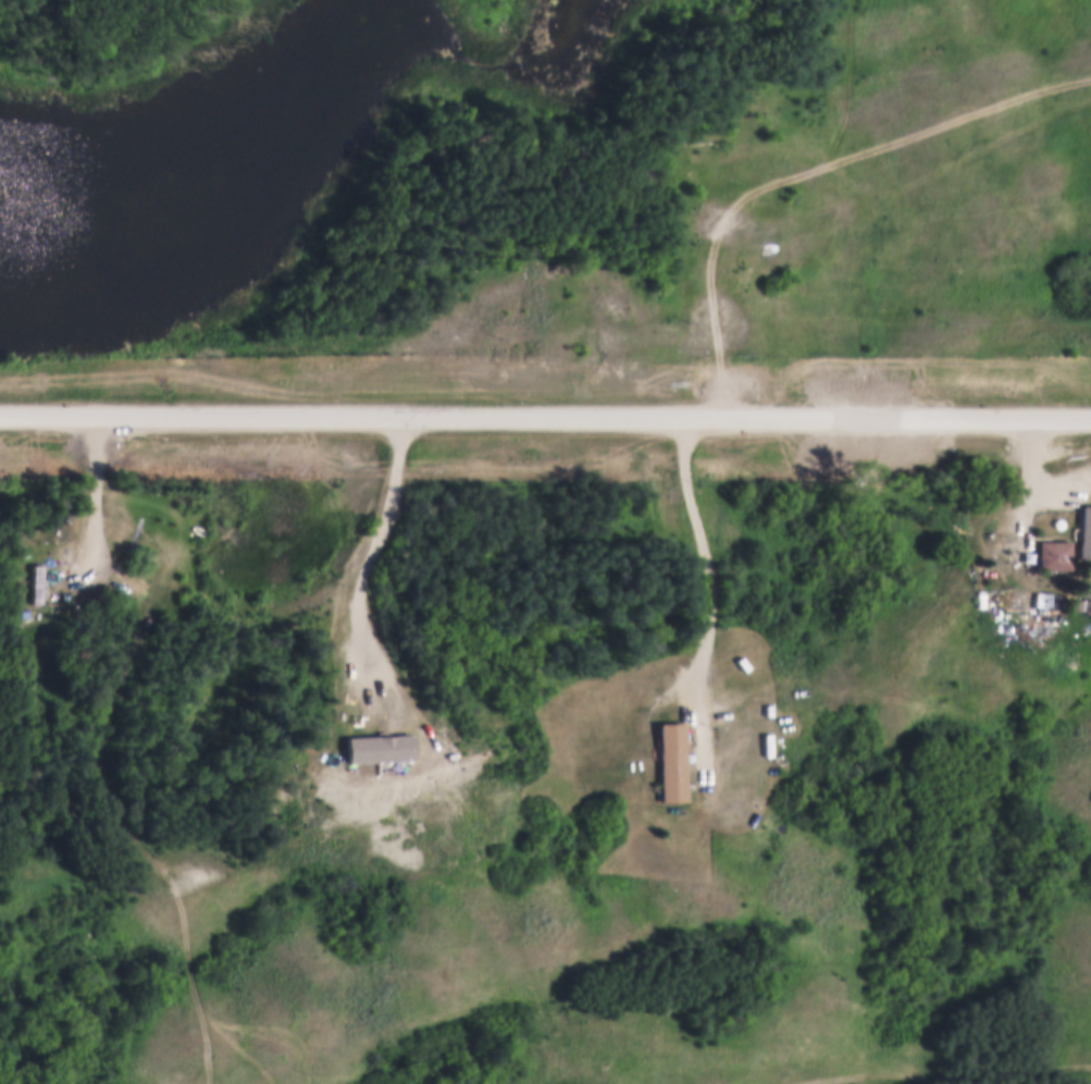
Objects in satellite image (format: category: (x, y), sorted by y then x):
road: (808, 171)
building: (769, 244)
road: (545, 416)
road: (98, 489)
road: (1037, 495)
building: (1084, 530)
building: (1053, 553)
road: (711, 567)
building: (35, 582)
building: (1079, 605)
road: (64, 705)
building: (671, 760)

